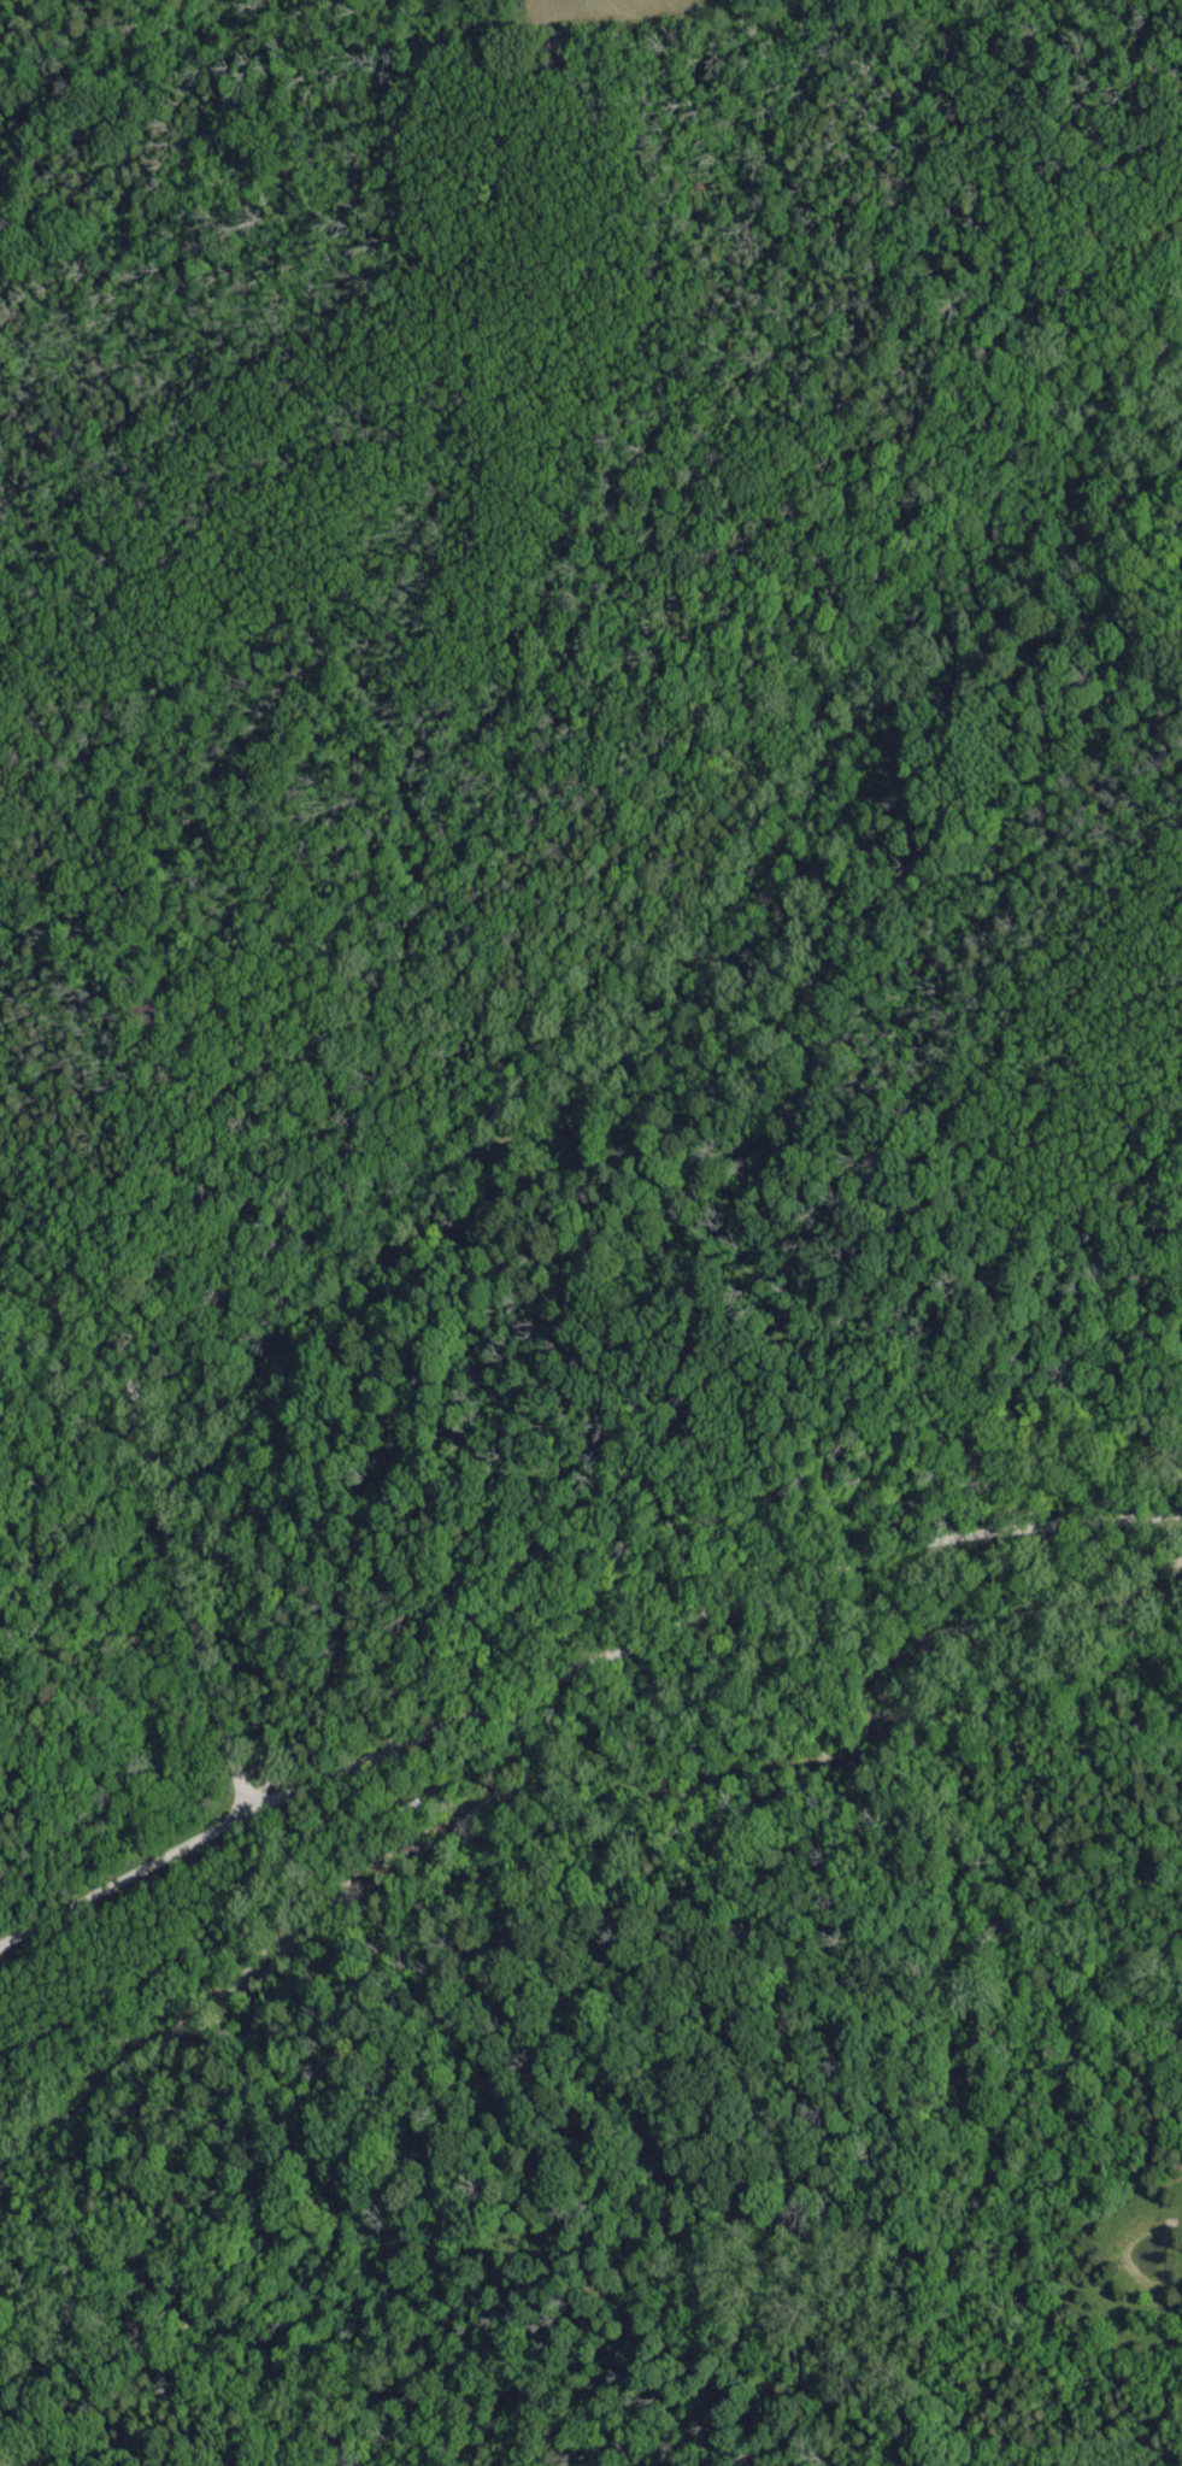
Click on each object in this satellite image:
road: (159, 1454)
road: (569, 1658)

